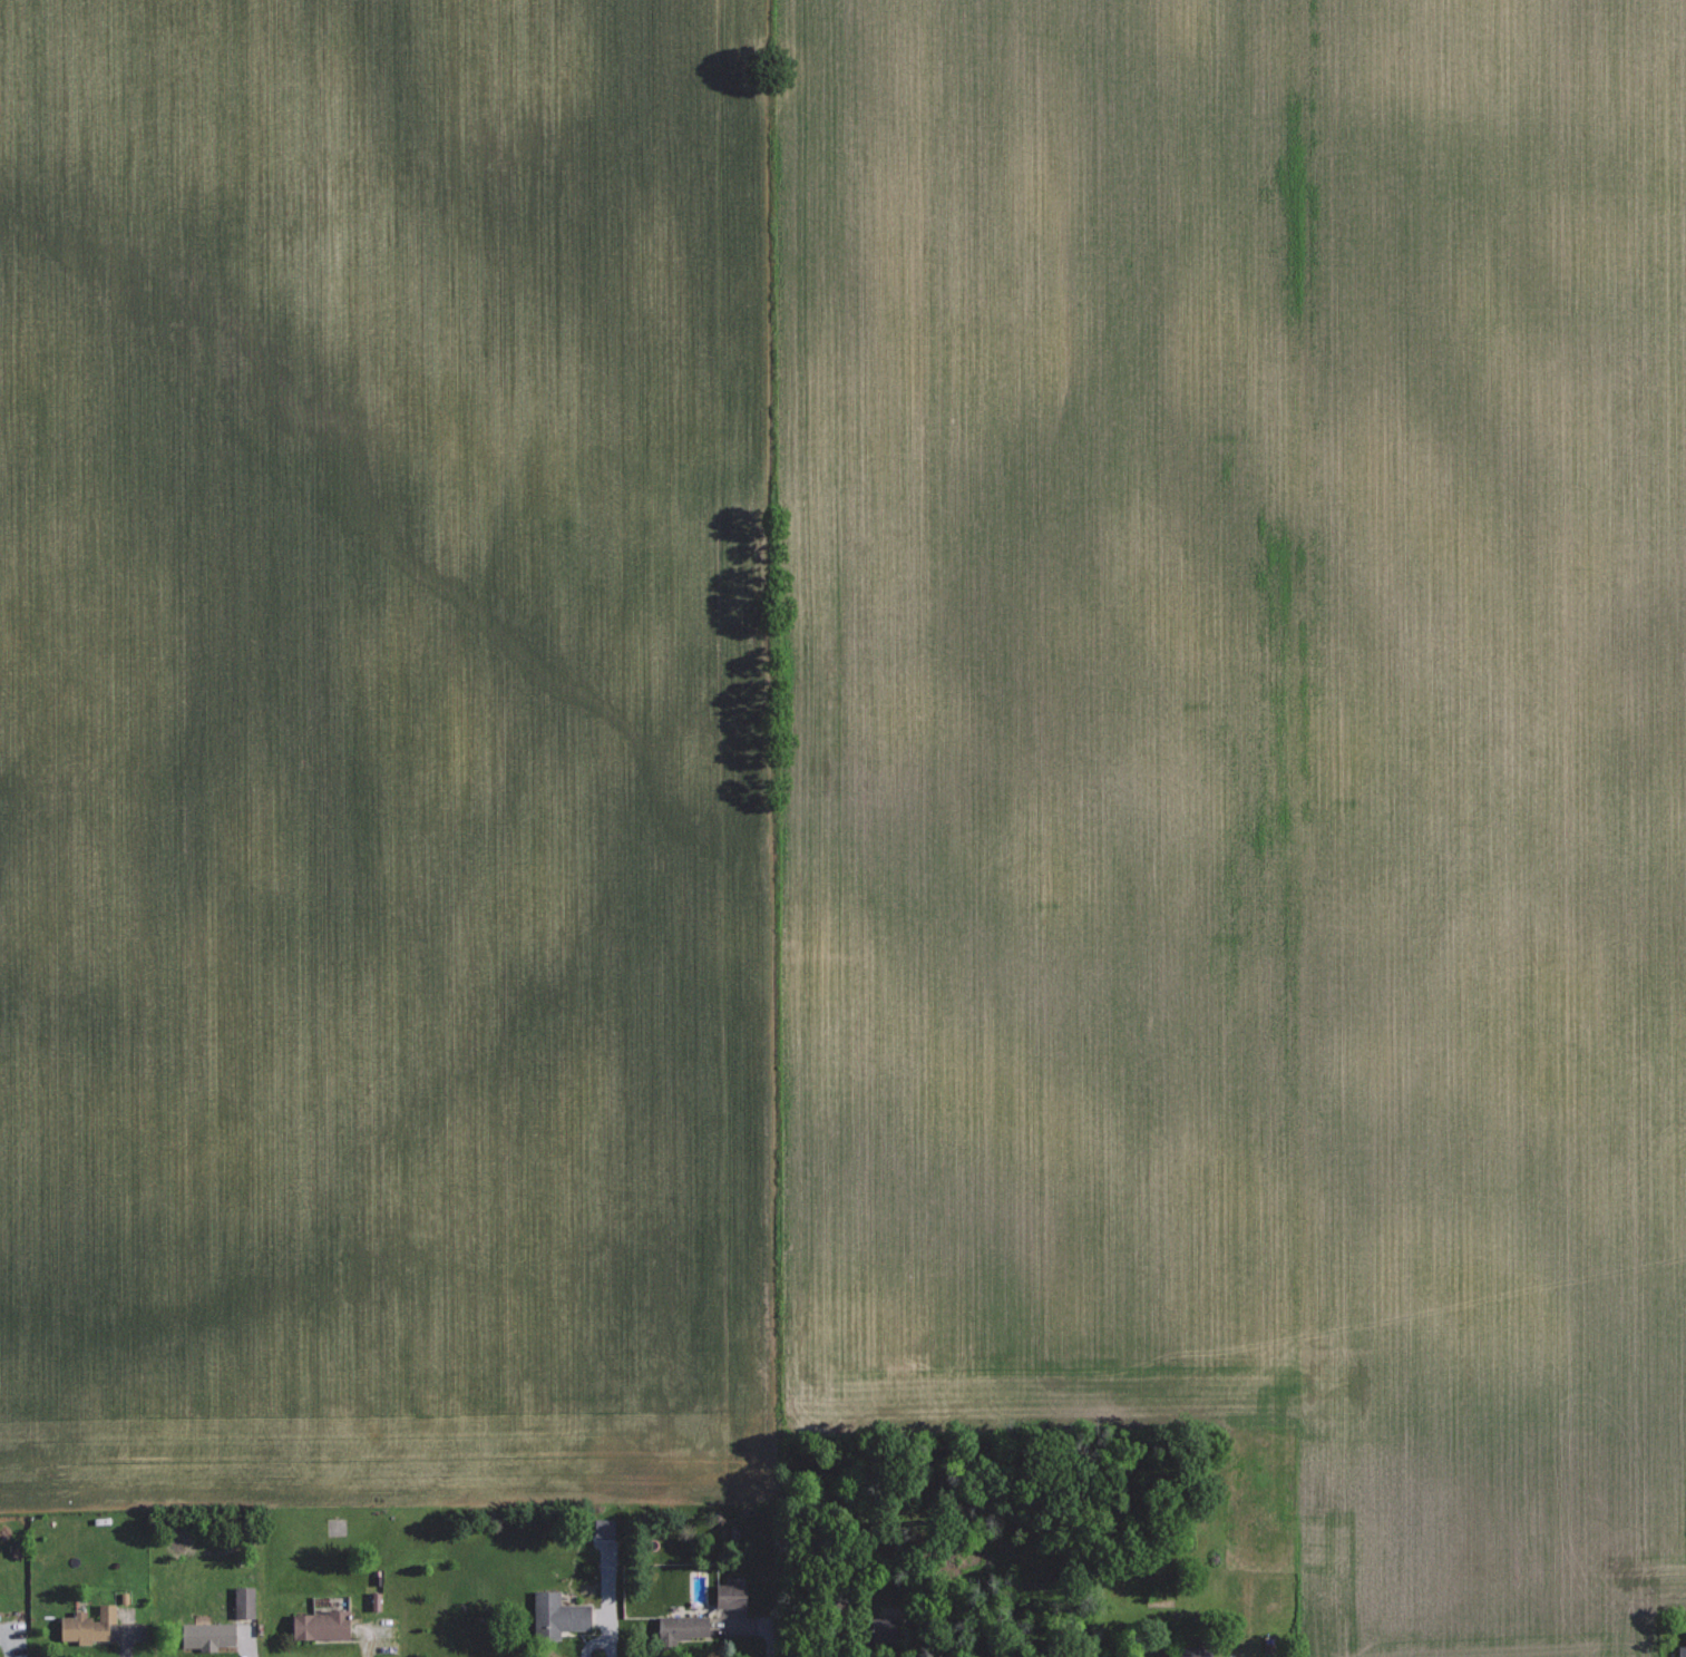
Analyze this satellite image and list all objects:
building: (603, 1528)
building: (729, 1595)
building: (243, 1601)
building: (556, 1615)
building: (318, 1624)
building: (86, 1625)
building: (682, 1626)
building: (878, 1628)
building: (205, 1635)
building: (1682, 1650)
building: (1190, 1656)

